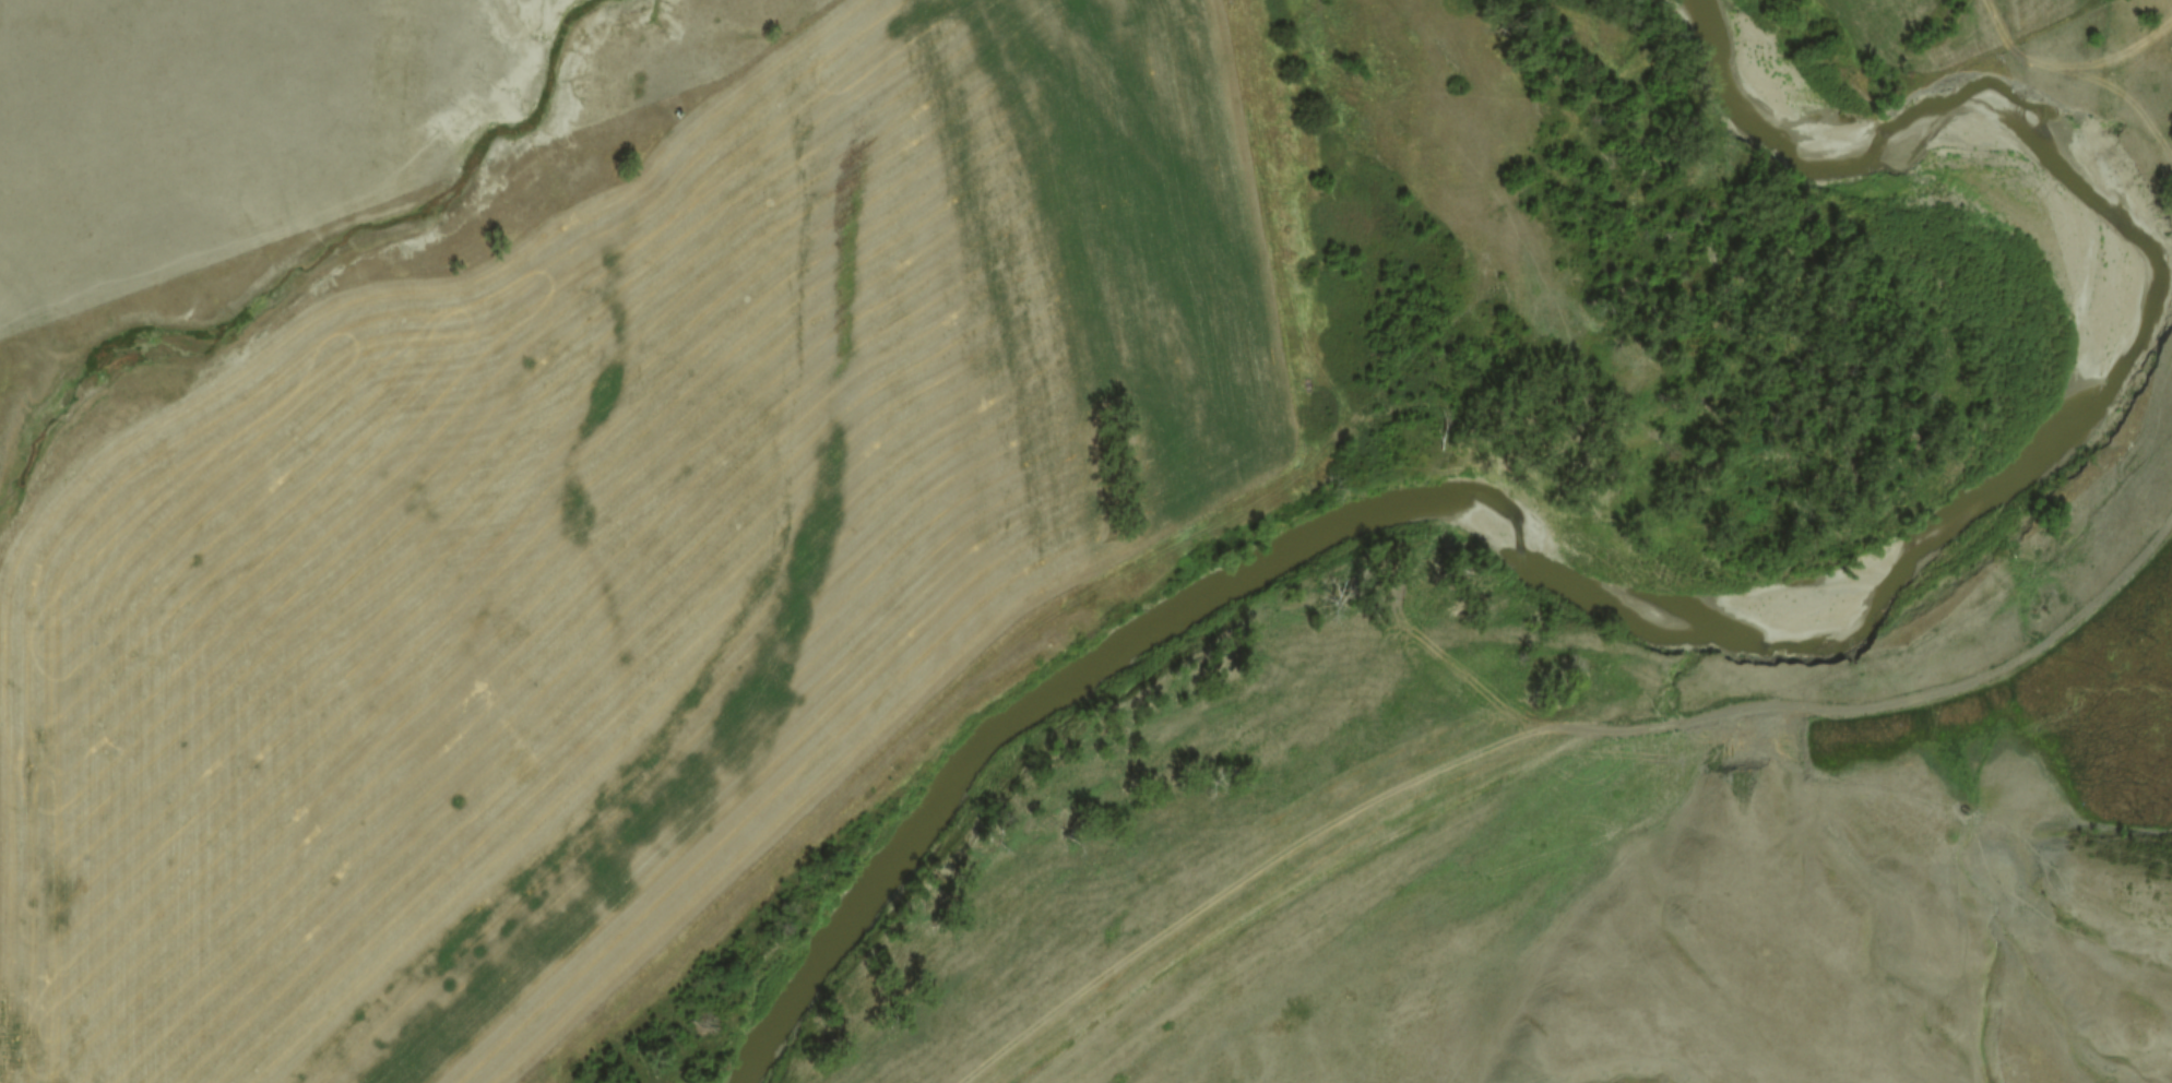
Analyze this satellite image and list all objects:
river: (1622, 607)
road: (1587, 740)

